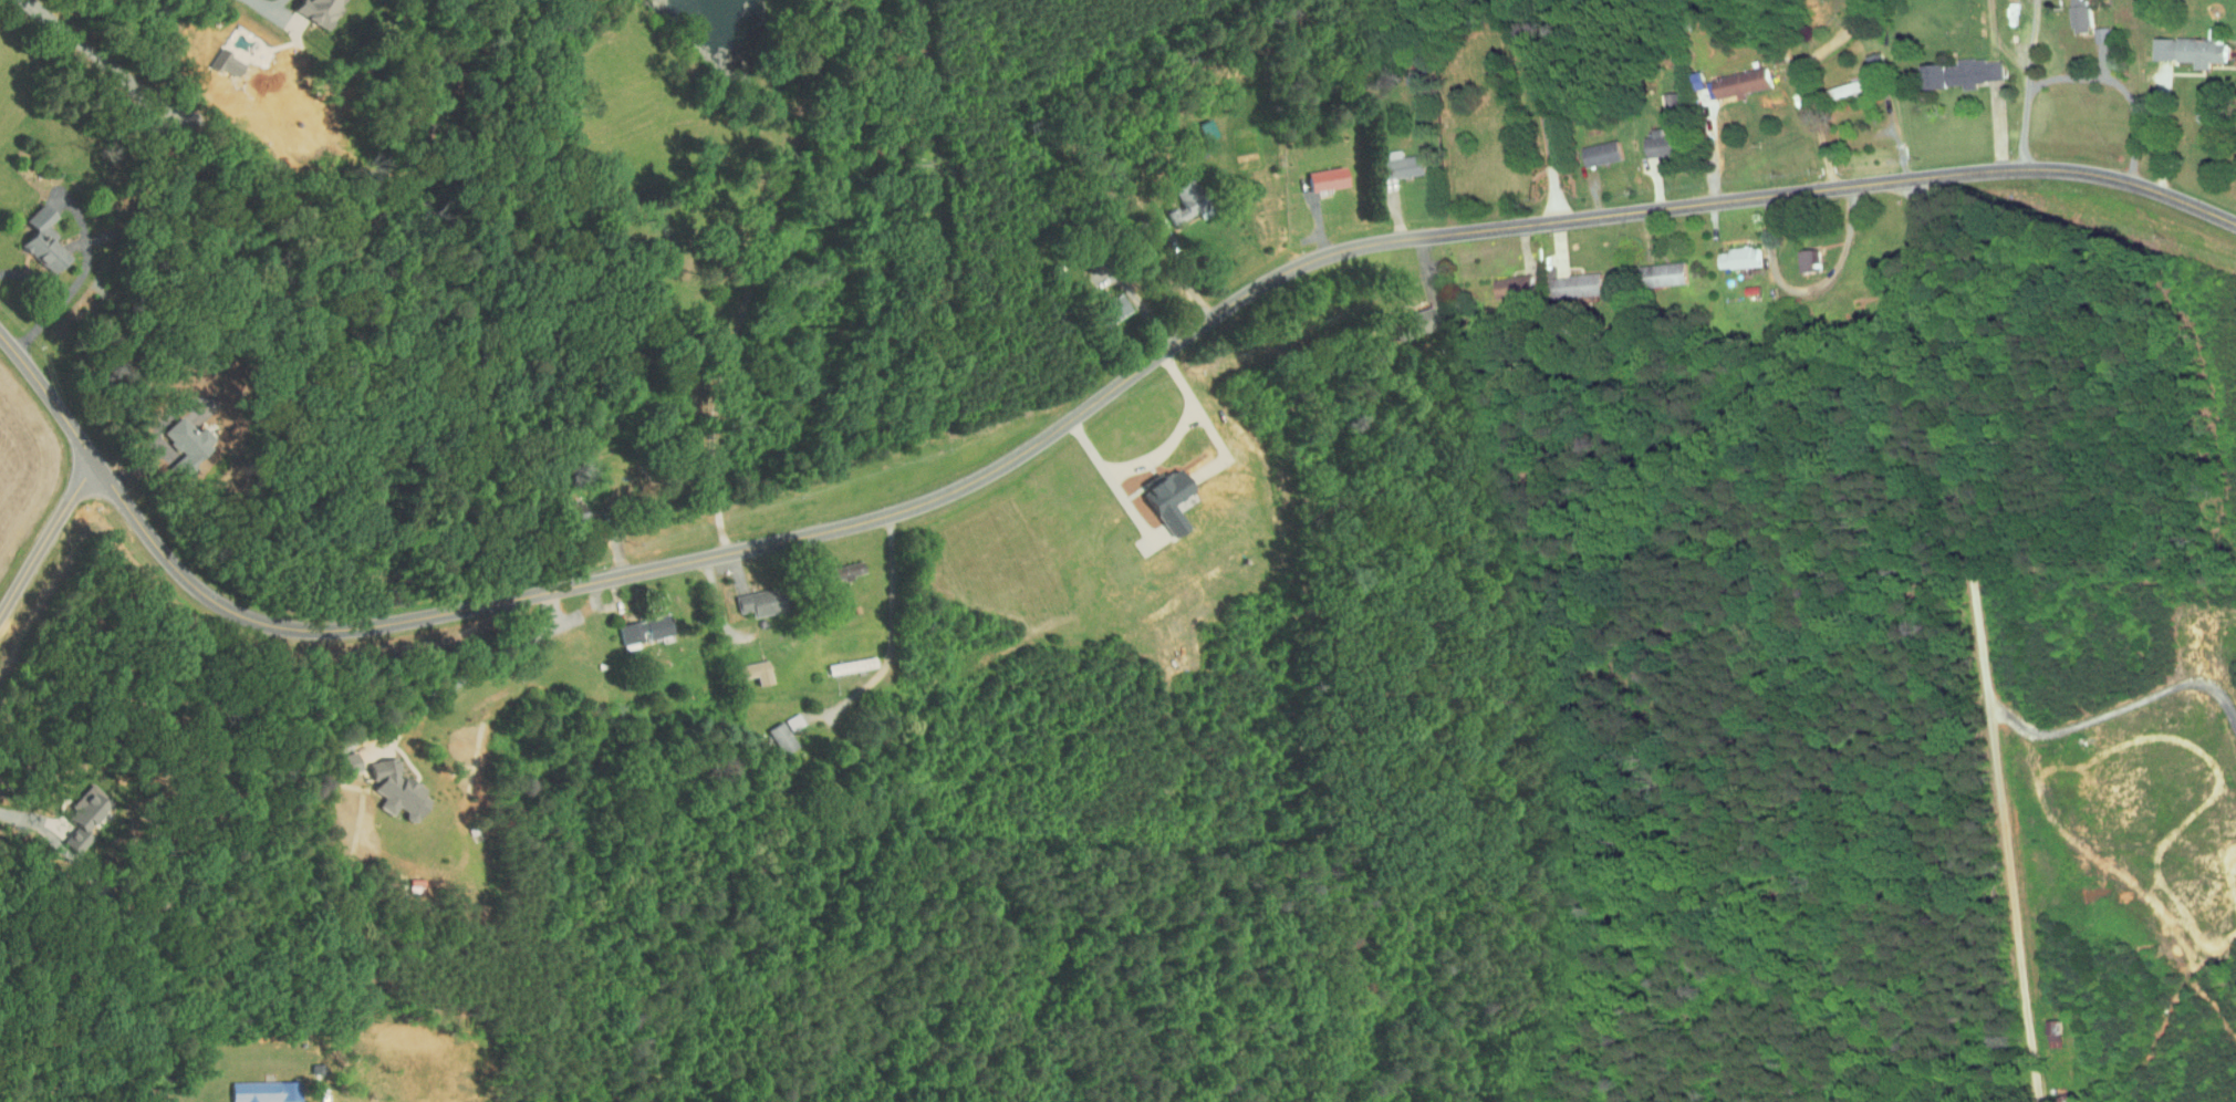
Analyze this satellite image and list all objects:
road: (273, 2)
building: (308, 8)
building: (2069, 12)
building: (2091, 28)
building: (2182, 42)
building: (217, 56)
building: (1953, 66)
building: (1731, 76)
building: (1837, 82)
road: (2013, 82)
road: (2104, 82)
road: (1800, 83)
building: (1662, 95)
road: (1539, 107)
building: (1198, 123)
road: (2161, 133)
building: (1651, 137)
building: (1591, 146)
building: (1391, 158)
building: (1318, 171)
building: (1177, 196)
building: (34, 233)
building: (1730, 250)
building: (1803, 253)
building: (1653, 268)
road: (1187, 270)
road: (757, 271)
building: (1566, 279)
building: (1504, 280)
road: (1807, 287)
road: (44, 300)
building: (1104, 302)
building: (1402, 316)
road: (266, 383)
road: (1067, 420)
building: (177, 437)
road: (1159, 453)
building: (1159, 493)
road: (48, 538)
building: (834, 564)
building: (746, 596)
building: (634, 624)
road: (895, 635)
road: (1982, 637)
building: (746, 666)
road: (481, 669)
road: (2120, 707)
building: (771, 731)
building: (387, 783)
building: (77, 802)
road: (27, 820)
building: (65, 834)
building: (254, 1087)

